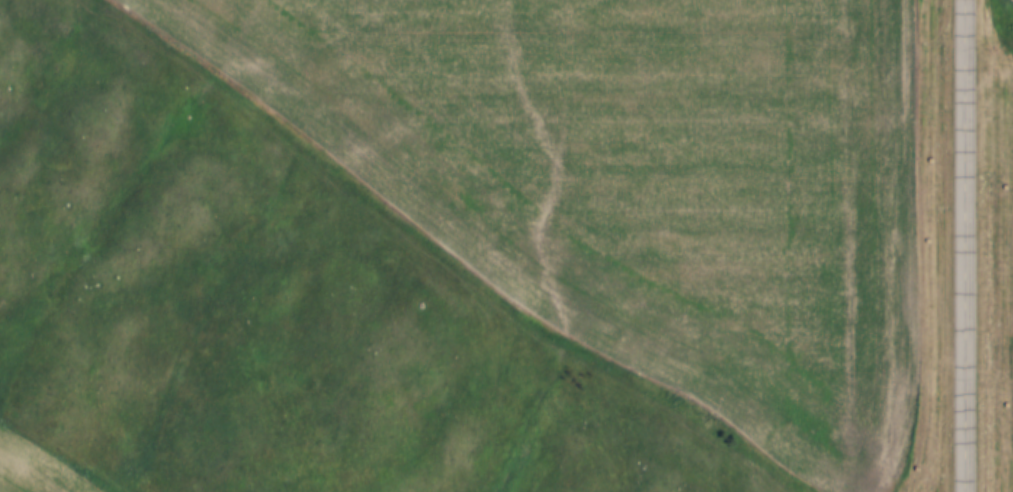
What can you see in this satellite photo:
road: (969, 246)

